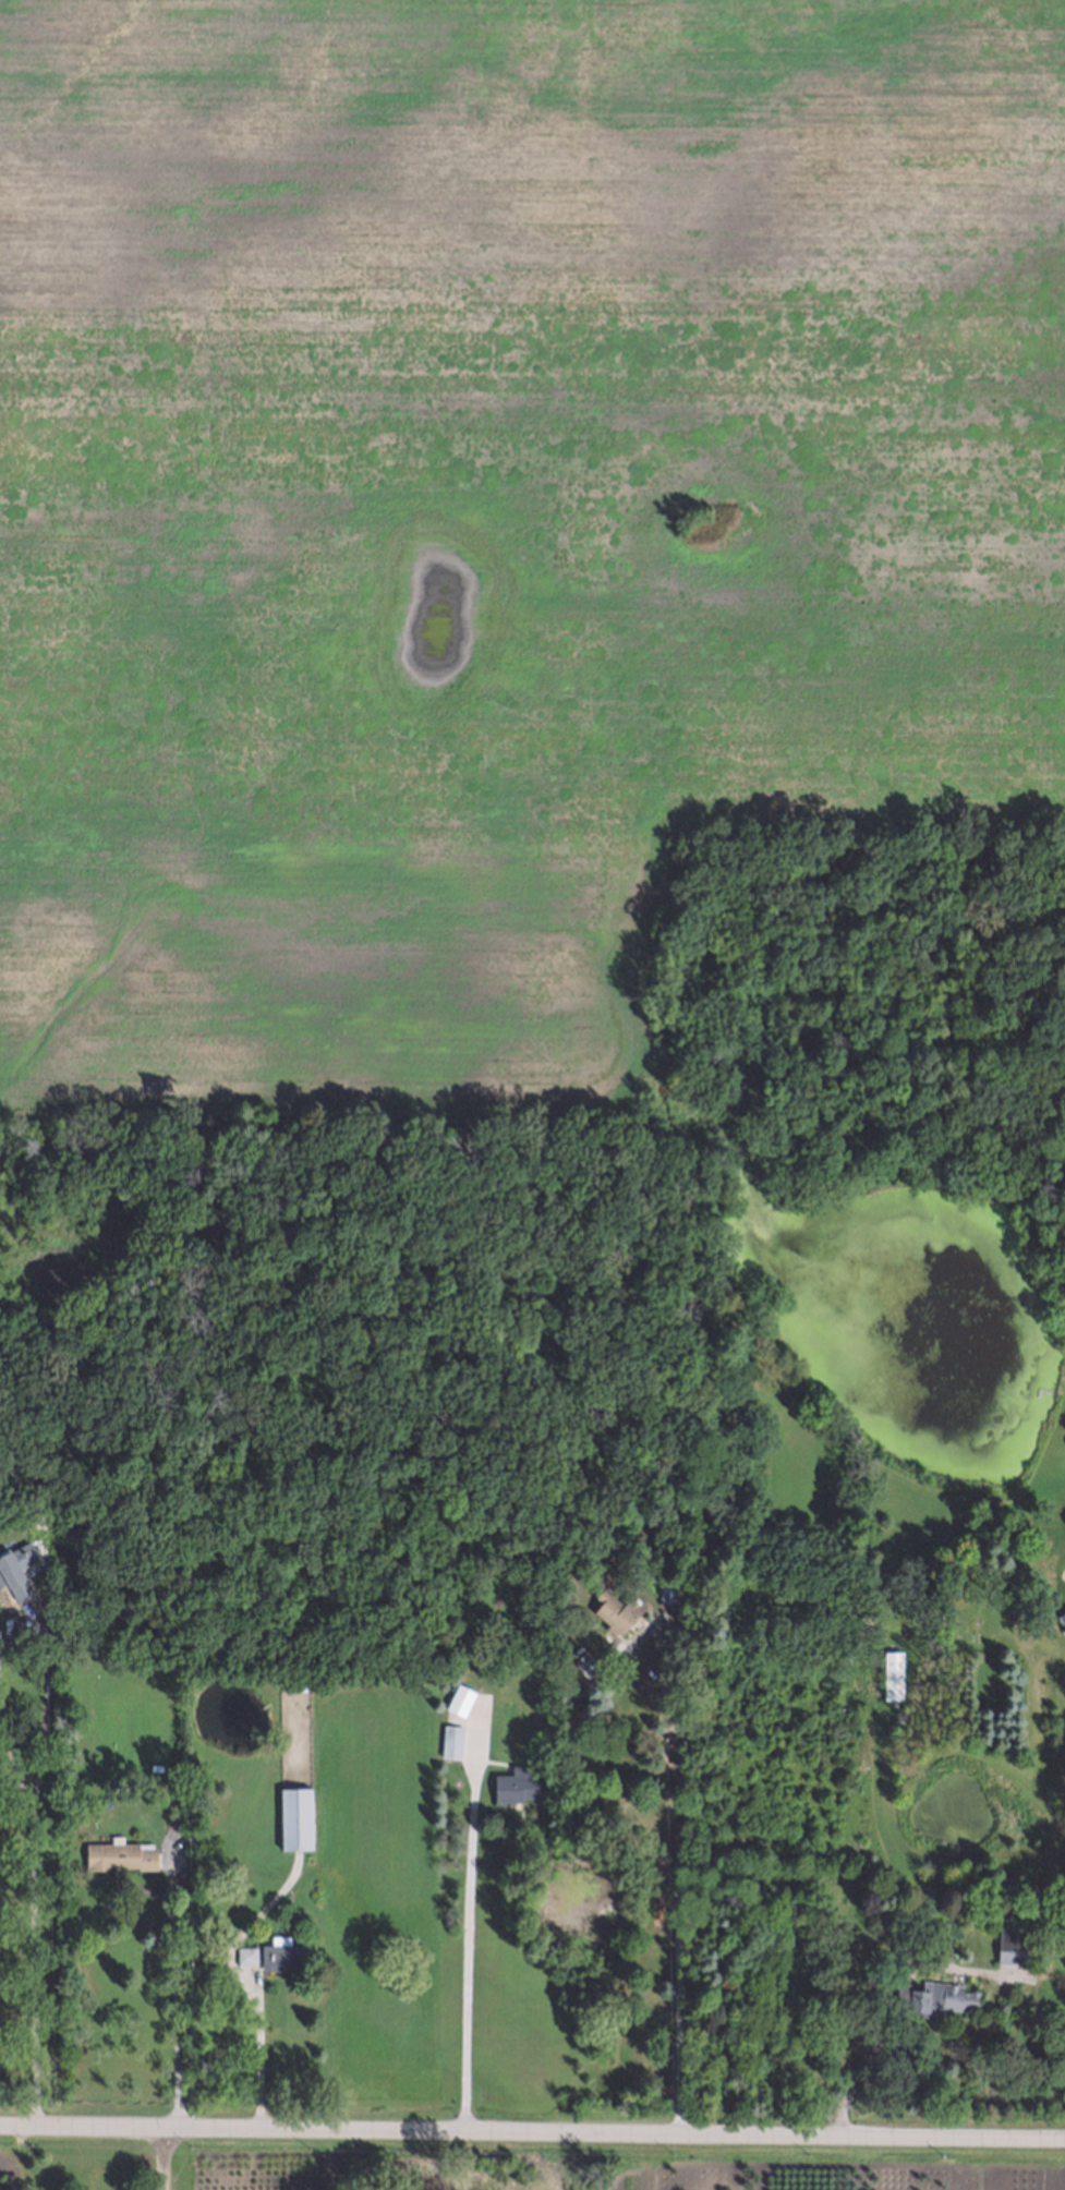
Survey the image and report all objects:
building: (16, 1570)
building: (667, 1589)
building: (614, 1611)
building: (1063, 1613)
building: (585, 1667)
building: (893, 1674)
road: (46, 1697)
building: (459, 1698)
building: (452, 1740)
road: (13, 1767)
building: (519, 1787)
building: (292, 1817)
building: (122, 1853)
road: (674, 1886)
building: (1014, 1945)
road: (465, 1951)
building: (283, 1952)
building: (247, 1955)
road: (31, 1975)
road: (869, 1993)
building: (933, 1997)
building: (1001, 2005)
road: (172, 2014)
road: (255, 2061)
road: (532, 2138)
road: (160, 2163)

